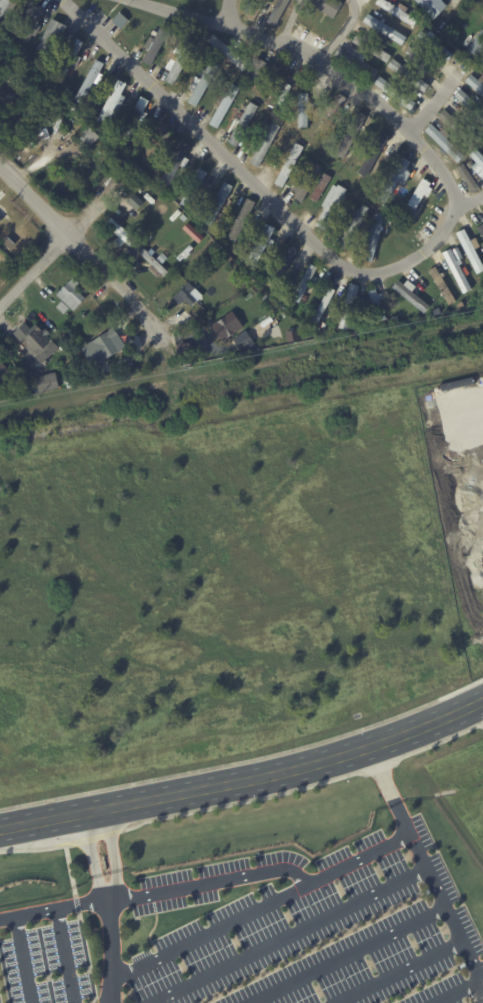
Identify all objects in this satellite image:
building: (202, 0)
building: (482, 0)
building: (432, 6)
building: (6, 7)
building: (330, 7)
building: (256, 9)
road: (177, 10)
building: (399, 12)
building: (278, 14)
building: (122, 21)
road: (288, 21)
building: (30, 22)
building: (386, 30)
road: (342, 31)
building: (456, 37)
building: (53, 38)
building: (371, 39)
building: (158, 43)
building: (436, 46)
building: (478, 46)
building: (374, 50)
building: (229, 52)
building: (70, 60)
building: (358, 62)
building: (423, 62)
building: (180, 63)
building: (259, 71)
building: (409, 76)
building: (90, 81)
building: (476, 83)
building: (204, 84)
road: (354, 85)
building: (281, 92)
building: (396, 95)
building: (111, 102)
road: (429, 104)
building: (470, 105)
building: (225, 106)
building: (306, 110)
building: (278, 112)
building: (334, 113)
building: (136, 118)
building: (244, 123)
building: (458, 130)
building: (352, 136)
building: (90, 137)
building: (157, 143)
building: (266, 144)
building: (446, 144)
building: (374, 155)
building: (478, 157)
building: (175, 164)
building: (472, 165)
building: (290, 167)
building: (482, 174)
building: (397, 179)
building: (309, 181)
building: (194, 188)
road: (265, 194)
building: (148, 197)
building: (135, 201)
building: (416, 201)
building: (218, 205)
building: (333, 208)
building: (388, 209)
building: (118, 211)
building: (174, 214)
building: (183, 216)
building: (241, 221)
building: (355, 226)
building: (119, 228)
building: (481, 230)
building: (193, 232)
building: (380, 243)
road: (57, 245)
building: (260, 246)
road: (84, 251)
building: (471, 251)
building: (184, 252)
building: (459, 254)
building: (224, 259)
building: (157, 263)
building: (283, 266)
building: (458, 271)
building: (305, 283)
building: (443, 284)
building: (185, 294)
building: (74, 296)
building: (414, 301)
building: (379, 306)
building: (462, 306)
building: (67, 308)
building: (350, 308)
building: (323, 310)
building: (227, 325)
building: (324, 330)
building: (295, 336)
building: (287, 339)
building: (275, 340)
building: (244, 342)
building: (38, 343)
building: (105, 348)
building: (19, 354)
building: (69, 371)
building: (4, 374)
building: (71, 382)
building: (48, 384)
road: (245, 781)
road: (111, 852)
road: (90, 854)
road: (425, 864)
road: (212, 880)
road: (261, 908)
road: (54, 910)
parking lot: (316, 928)
road: (289, 936)
road: (110, 948)
road: (349, 955)
road: (67, 956)
road: (24, 960)
parking lot: (46, 961)
road: (401, 972)
road: (458, 991)

